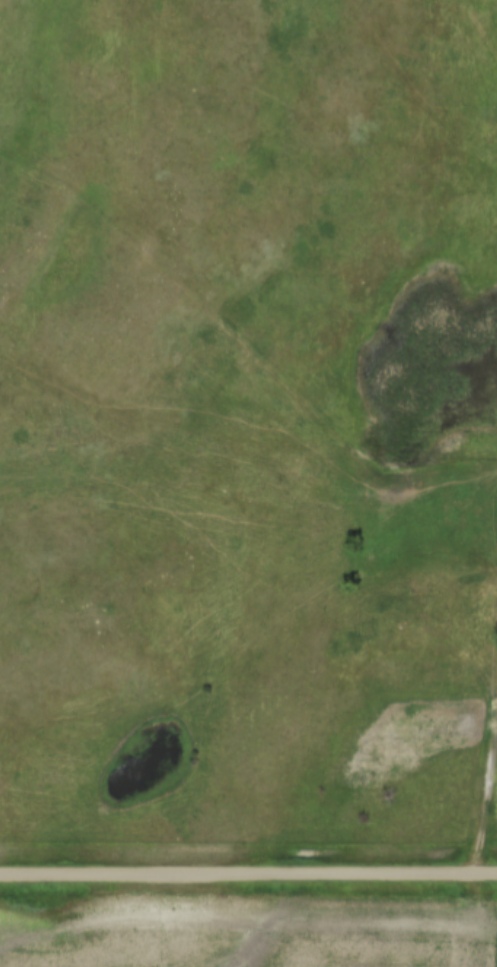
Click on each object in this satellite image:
road: (248, 877)

